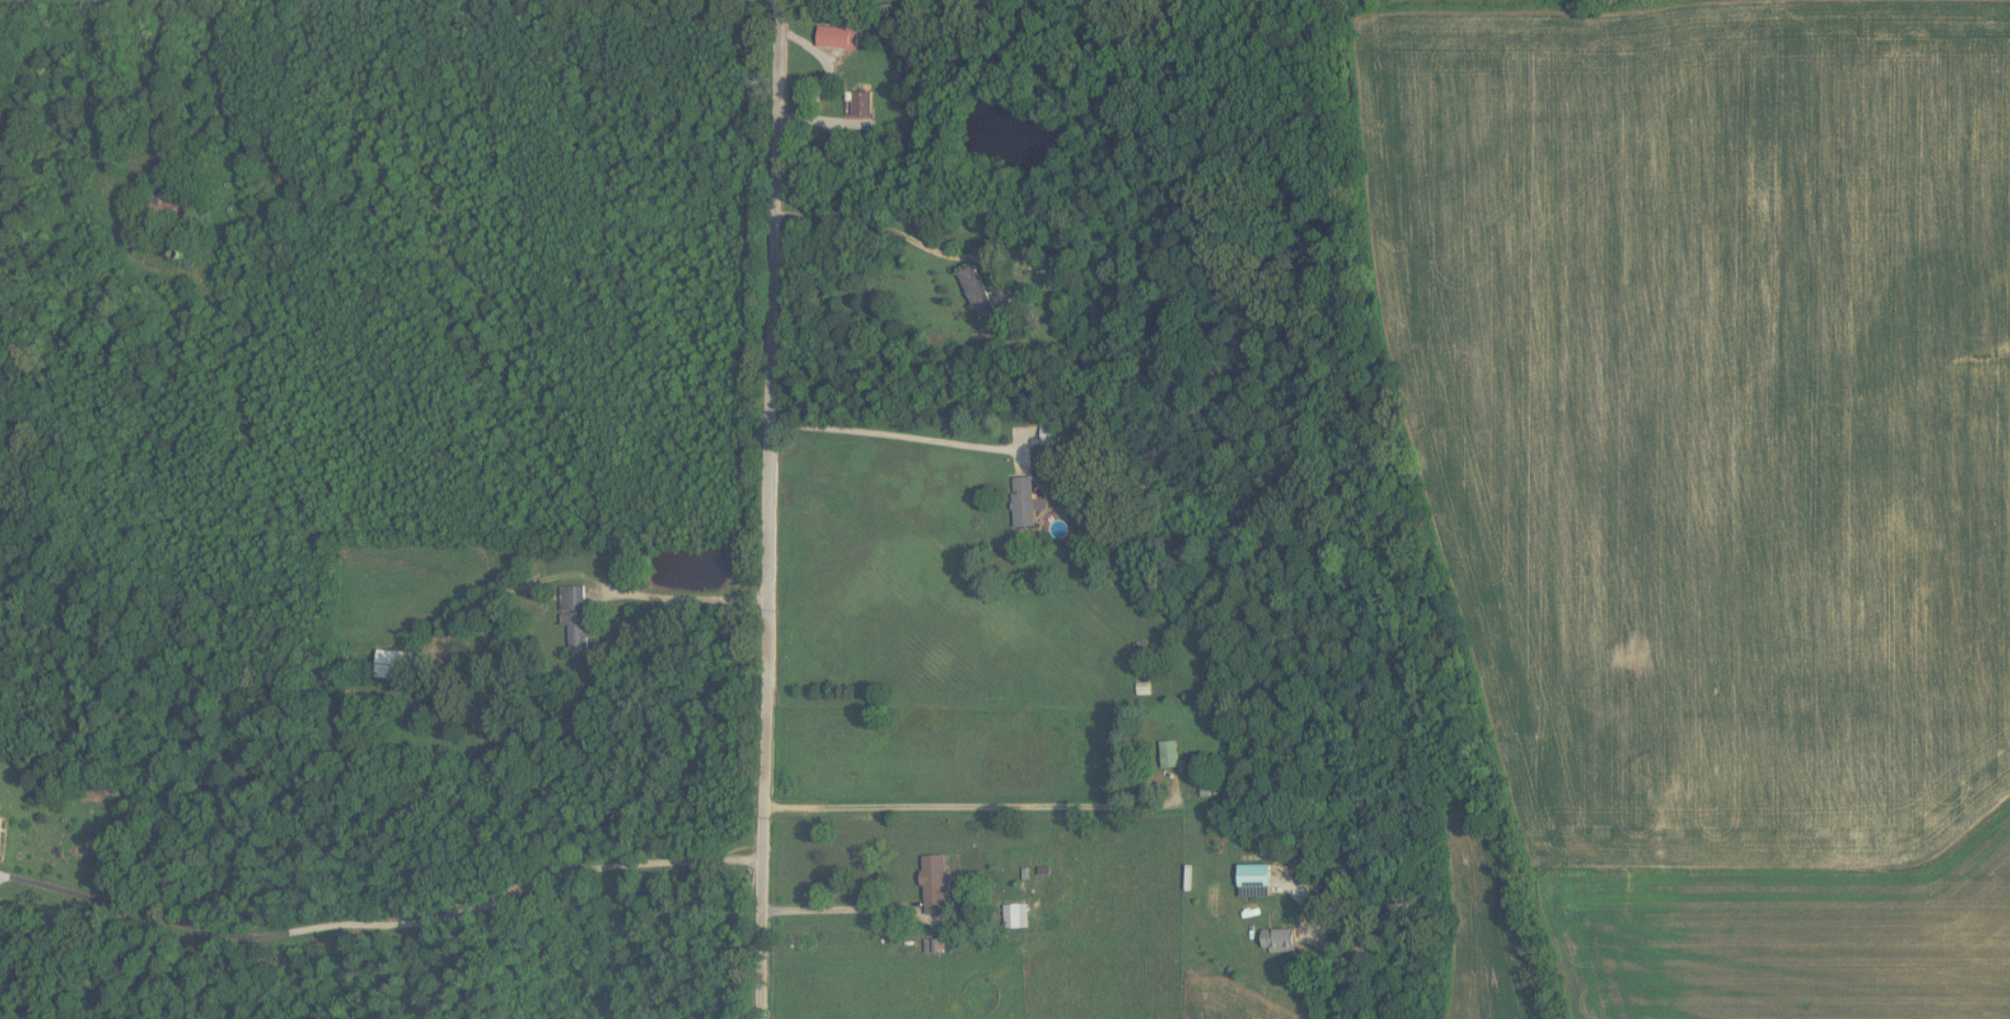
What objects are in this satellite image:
building: (837, 39)
road: (161, 88)
building: (862, 105)
road: (875, 216)
building: (981, 295)
road: (899, 413)
building: (1050, 435)
building: (1023, 501)
road: (765, 509)
road: (677, 597)
building: (576, 616)
building: (393, 665)
building: (1169, 755)
road: (965, 808)
building: (0, 826)
building: (1255, 876)
building: (936, 884)
road: (378, 903)
road: (850, 913)
building: (1016, 916)
road: (1341, 938)
building: (1279, 941)

